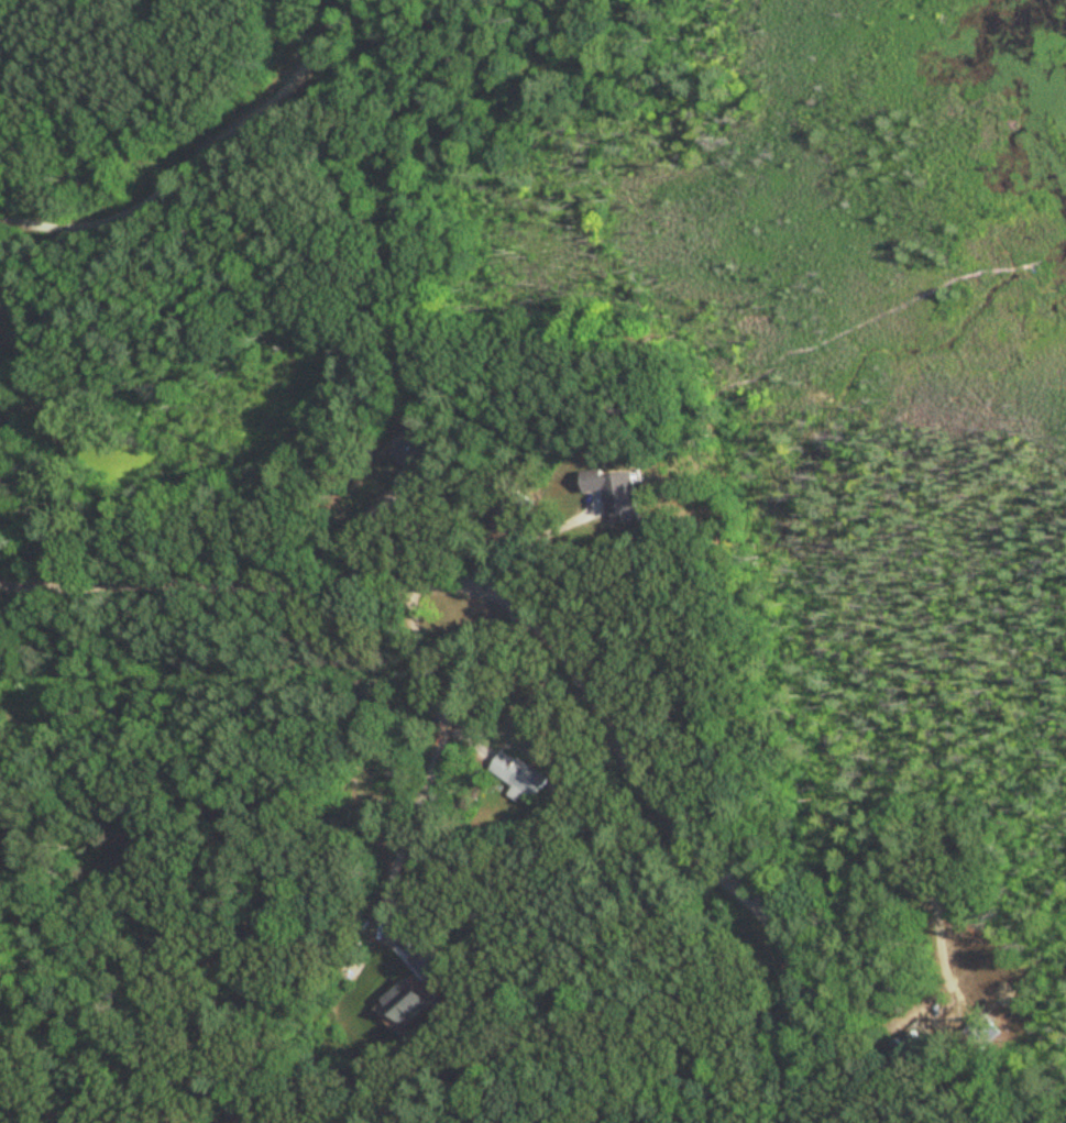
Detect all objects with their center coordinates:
road: (208, 155)
building: (613, 492)
road: (538, 535)
road: (551, 640)
road: (425, 659)
road: (468, 742)
building: (519, 775)
building: (12, 838)
road: (404, 847)
building: (407, 1004)
building: (976, 1038)
building: (914, 1048)

